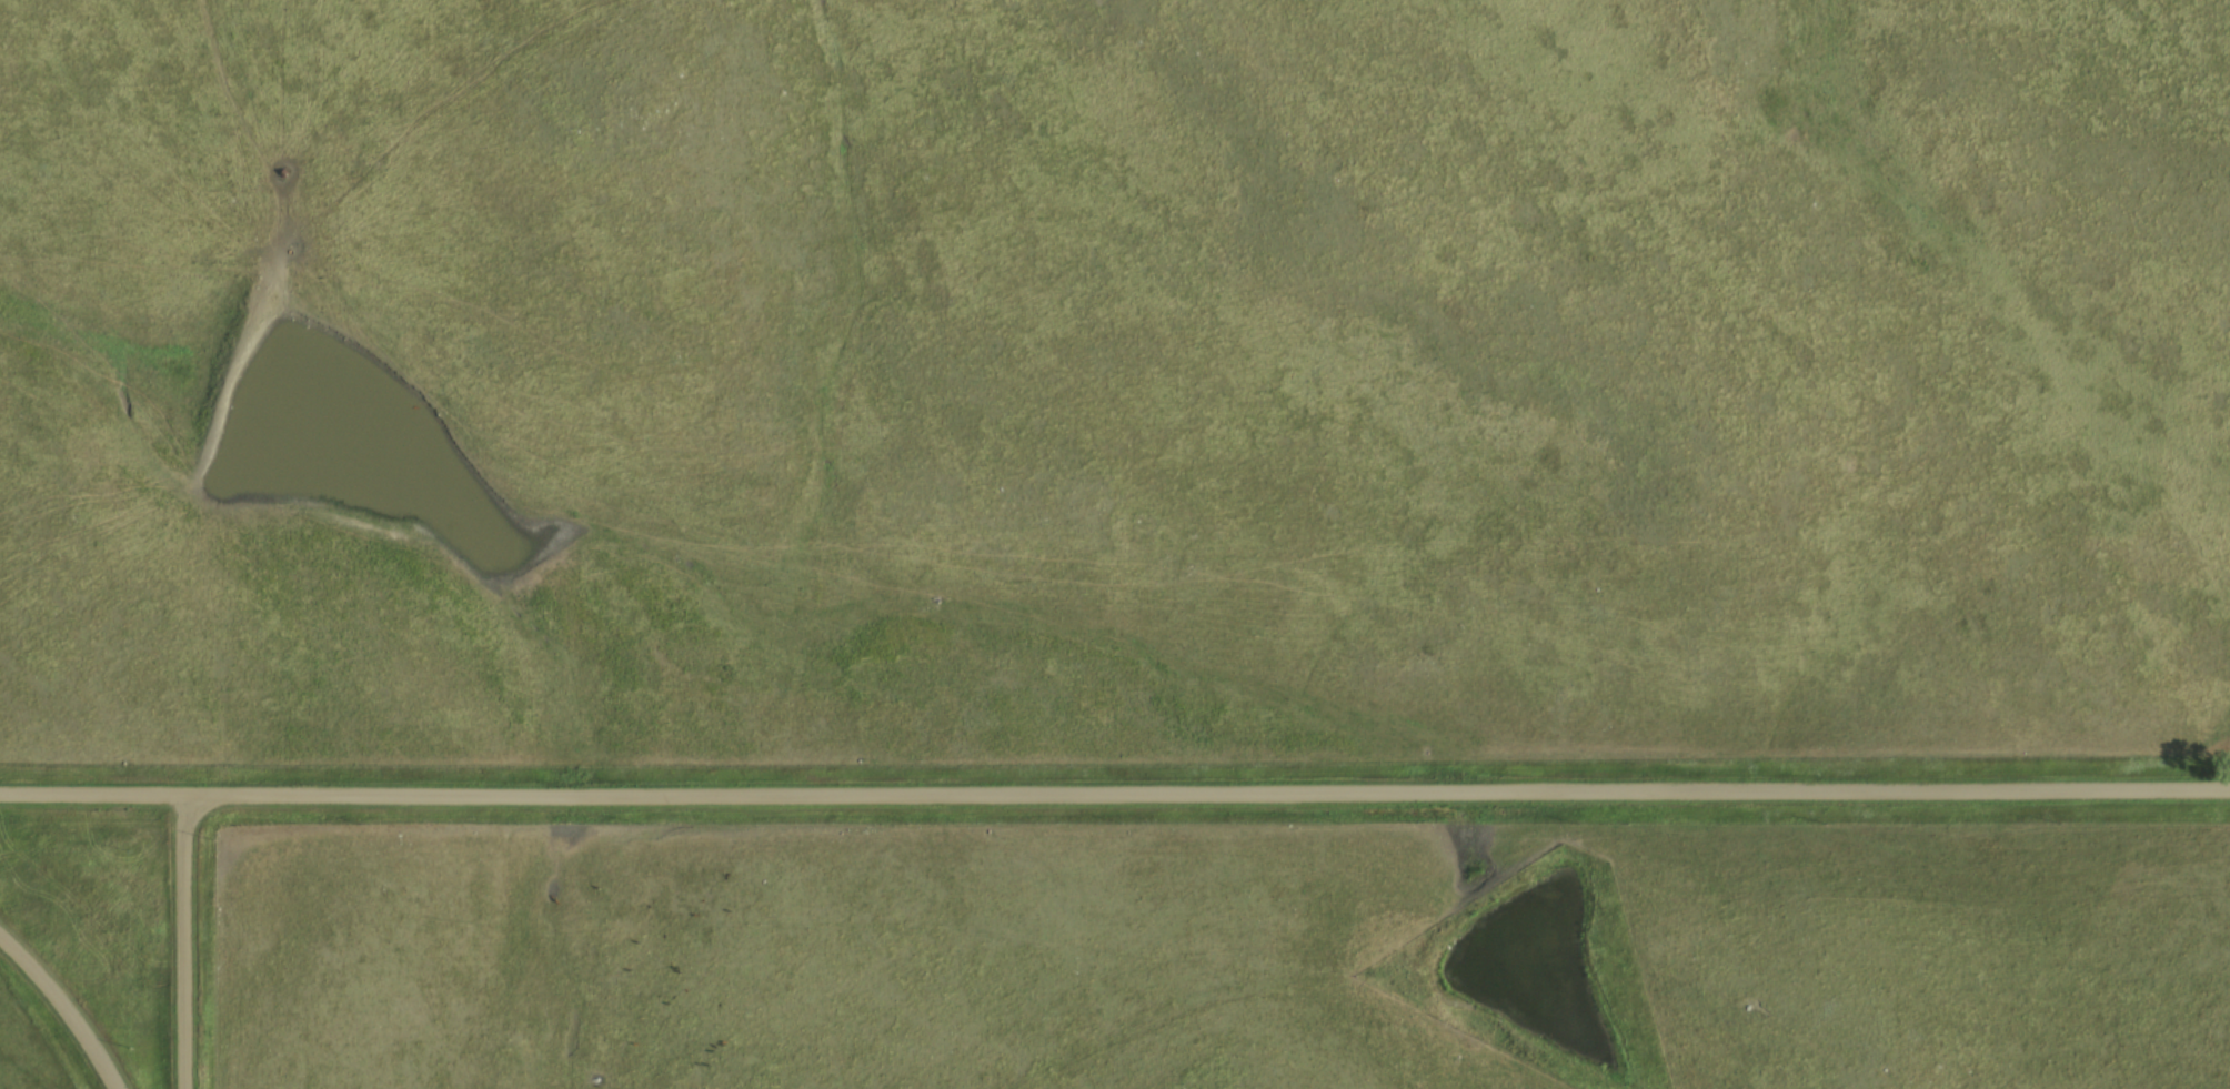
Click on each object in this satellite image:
road: (1114, 798)
road: (185, 944)
road: (69, 1002)

